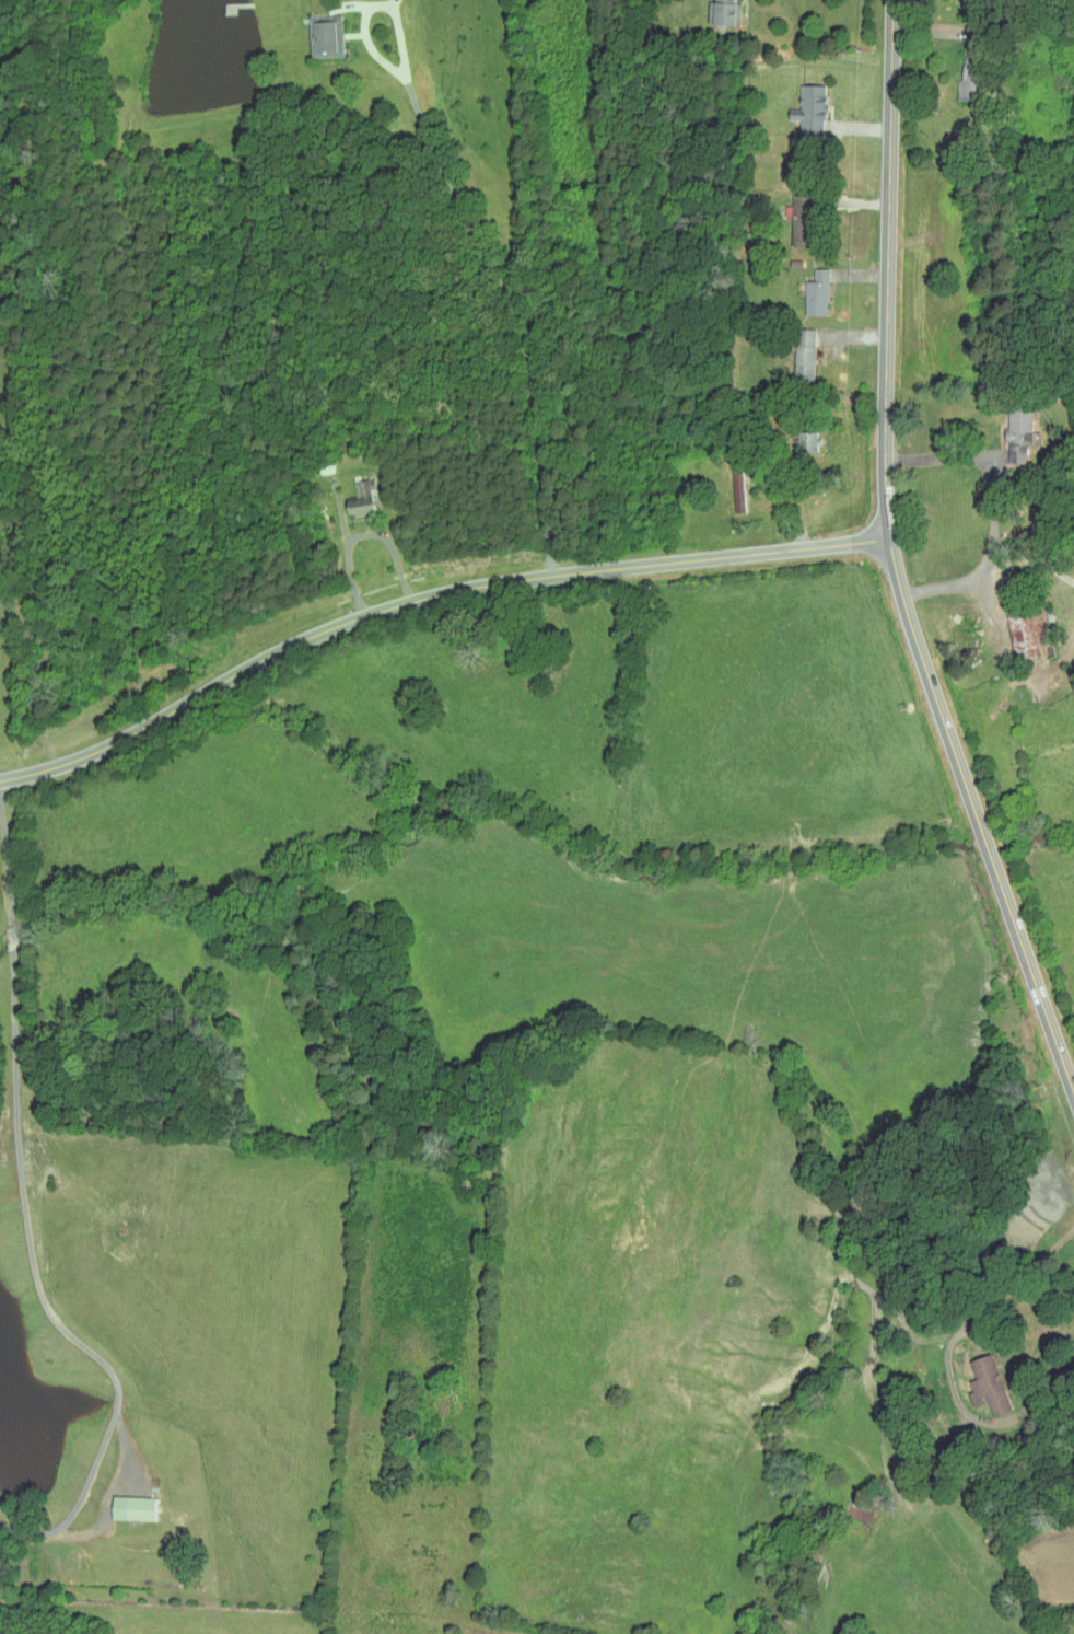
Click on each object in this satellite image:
building: (720, 12)
building: (323, 36)
building: (966, 79)
building: (808, 111)
road: (477, 231)
building: (815, 293)
building: (802, 356)
building: (1017, 434)
building: (805, 442)
road: (954, 461)
building: (736, 494)
building: (358, 499)
road: (361, 534)
road: (988, 557)
road: (895, 560)
road: (425, 596)
road: (90, 718)
road: (12, 1018)
road: (948, 1356)
road: (116, 1383)
building: (987, 1386)
building: (129, 1507)

